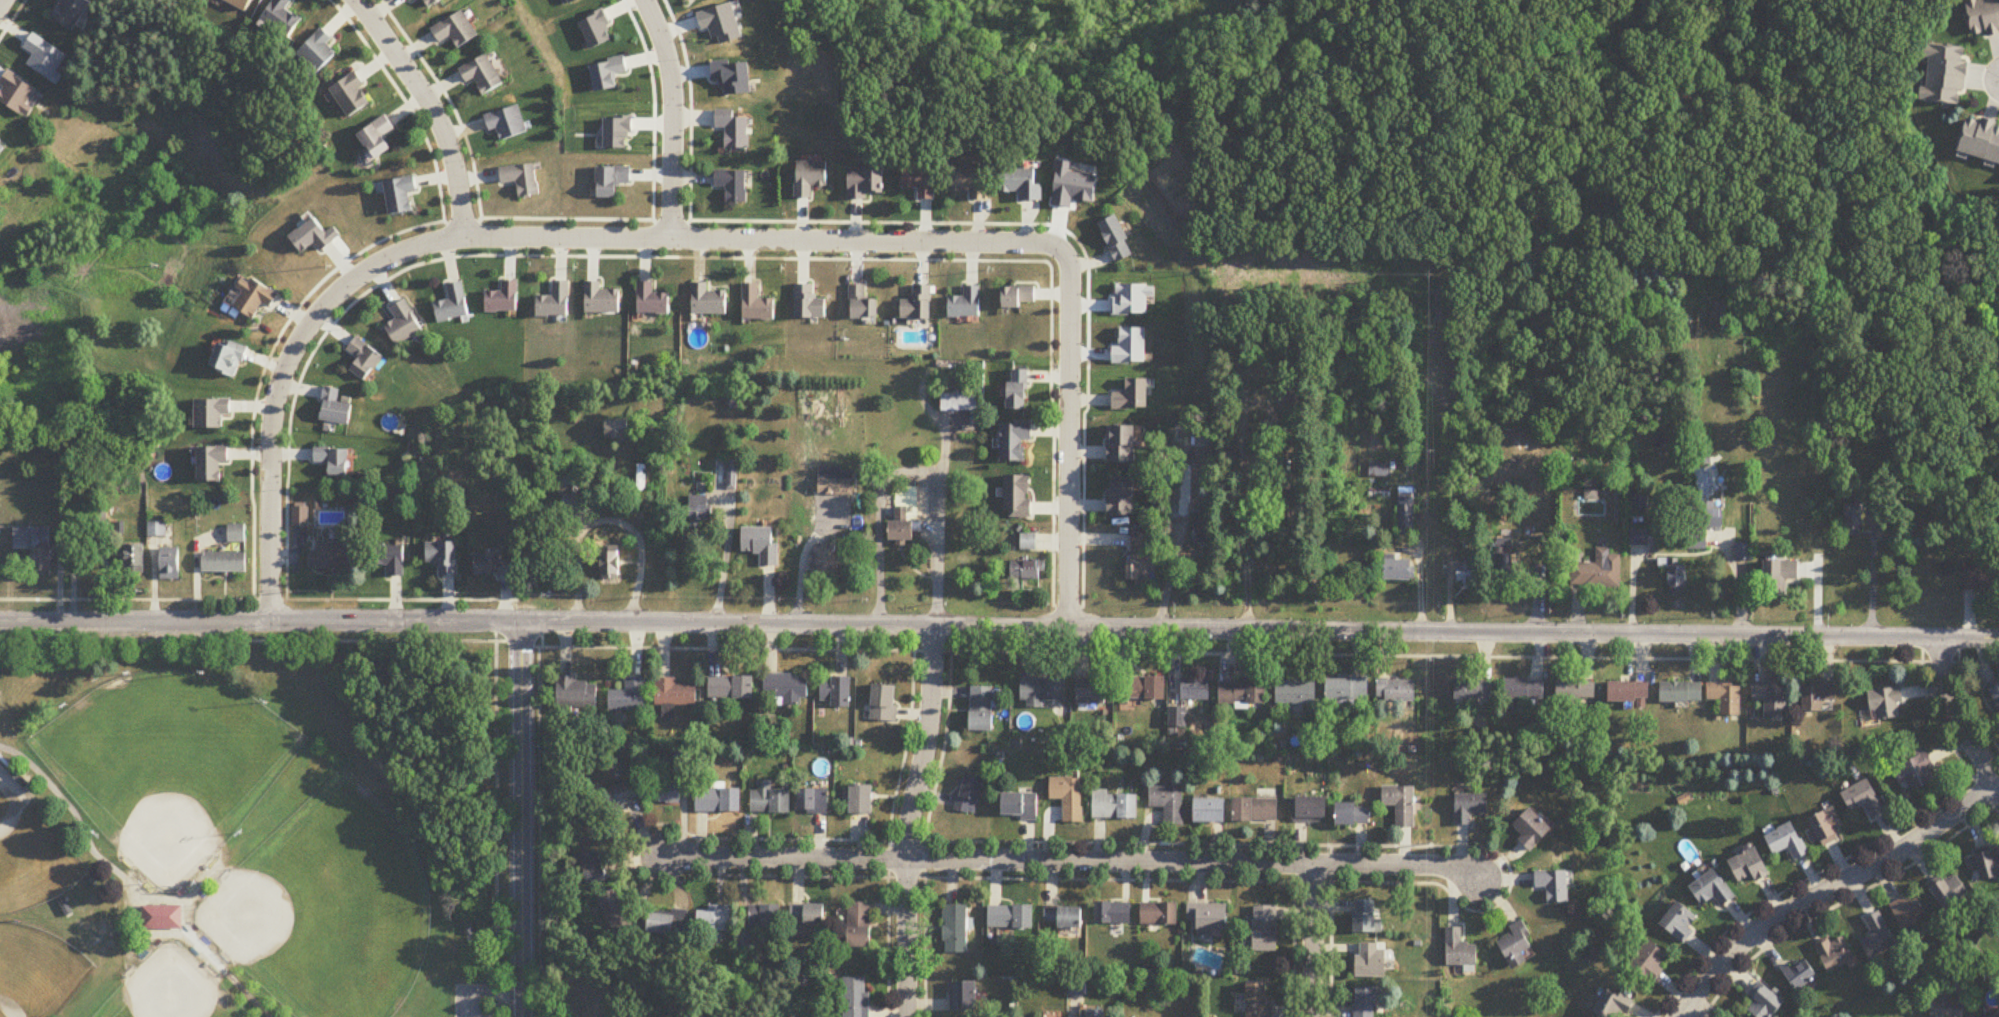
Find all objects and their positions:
building: (413, 0)
road: (1, 2)
building: (433, 3)
building: (70, 13)
building: (1984, 17)
building: (282, 19)
building: (456, 31)
building: (319, 54)
building: (482, 75)
building: (1948, 75)
building: (352, 97)
road: (429, 108)
road: (669, 118)
building: (507, 124)
building: (734, 131)
building: (378, 139)
building: (1982, 141)
building: (809, 179)
building: (522, 180)
building: (611, 181)
building: (920, 183)
building: (972, 183)
building: (865, 185)
building: (1023, 185)
building: (733, 186)
building: (400, 196)
building: (311, 237)
road: (516, 239)
building: (1118, 239)
building: (1018, 296)
building: (255, 297)
building: (503, 298)
building: (601, 298)
building: (652, 299)
building: (708, 299)
building: (555, 301)
building: (809, 302)
building: (861, 303)
building: (917, 303)
building: (965, 303)
building: (453, 304)
building: (757, 304)
building: (403, 324)
building: (229, 357)
building: (365, 358)
building: (1018, 390)
building: (1132, 395)
building: (958, 401)
building: (335, 408)
building: (212, 412)
building: (618, 429)
road: (1069, 433)
building: (1015, 440)
building: (1122, 444)
building: (334, 460)
building: (212, 462)
road: (911, 468)
building: (1379, 470)
building: (732, 474)
building: (835, 481)
building: (576, 485)
building: (1592, 489)
building: (1018, 496)
building: (1121, 497)
building: (905, 514)
building: (300, 517)
building: (1406, 520)
building: (1705, 523)
building: (1848, 523)
building: (1203, 530)
building: (237, 533)
building: (1143, 541)
building: (1029, 542)
building: (761, 543)
building: (34, 545)
road: (1418, 556)
building: (331, 557)
building: (443, 557)
building: (134, 558)
building: (390, 558)
road: (1246, 558)
road: (796, 559)
building: (830, 561)
building: (224, 562)
building: (170, 564)
building: (494, 565)
building: (612, 565)
building: (1504, 566)
building: (1139, 569)
building: (1397, 569)
building: (1026, 570)
building: (1598, 571)
road: (1871, 573)
building: (1468, 574)
building: (1779, 576)
building: (1975, 576)
road: (1735, 578)
building: (1675, 580)
road: (259, 599)
road: (999, 624)
road: (540, 633)
road: (999, 648)
building: (1143, 687)
building: (731, 688)
building: (1196, 688)
building: (1473, 688)
building: (785, 689)
building: (1347, 689)
building: (1525, 689)
building: (1043, 690)
building: (1397, 690)
building: (836, 691)
building: (1091, 691)
building: (1577, 691)
building: (1629, 691)
building: (1682, 691)
building: (1242, 692)
building: (576, 693)
building: (675, 693)
building: (1296, 693)
building: (1993, 694)
building: (1819, 695)
building: (628, 696)
building: (1728, 697)
building: (1773, 697)
building: (884, 703)
building: (1879, 703)
building: (982, 708)
road: (1952, 714)
building: (678, 754)
park: (166, 764)
building: (1910, 770)
building: (18, 780)
building: (666, 791)
building: (969, 794)
building: (620, 797)
building: (1069, 797)
building: (1857, 798)
building: (770, 799)
building: (718, 800)
building: (862, 800)
building: (813, 801)
building: (1168, 802)
building: (1401, 804)
building: (1019, 805)
building: (1115, 805)
building: (1470, 807)
building: (1311, 809)
building: (1210, 810)
building: (1256, 810)
building: (1353, 813)
road: (495, 818)
road: (520, 818)
road: (913, 819)
park: (253, 824)
building: (1820, 826)
building: (1533, 829)
road: (538, 831)
building: (1781, 841)
park: (30, 853)
road: (1073, 860)
building: (1982, 864)
building: (1745, 867)
building: (596, 868)
building: (1555, 886)
road: (1830, 889)
building: (1712, 890)
building: (1943, 891)
road: (134, 895)
park: (326, 907)
building: (618, 911)
building: (1902, 912)
building: (1113, 913)
building: (1159, 913)
building: (807, 914)
building: (763, 916)
building: (1011, 917)
building: (1065, 917)
building: (1366, 917)
building: (161, 918)
building: (1209, 919)
building: (714, 920)
building: (1681, 923)
building: (663, 924)
building: (859, 925)
building: (1265, 928)
building: (954, 929)
road: (145, 934)
building: (1872, 936)
road: (1313, 940)
building: (1518, 946)
building: (1460, 949)
building: (1828, 953)
building: (1370, 960)
building: (1650, 961)
park: (37, 973)
building: (1794, 973)
park: (170, 989)
road: (484, 994)
building: (856, 997)
building: (964, 997)
parking lot: (474, 1000)
building: (1260, 1000)
building: (1366, 1002)
building: (1767, 1004)
building: (1613, 1005)
building: (1939, 1007)
building: (1096, 1013)
road: (1692, 1013)
building: (1994, 1015)

